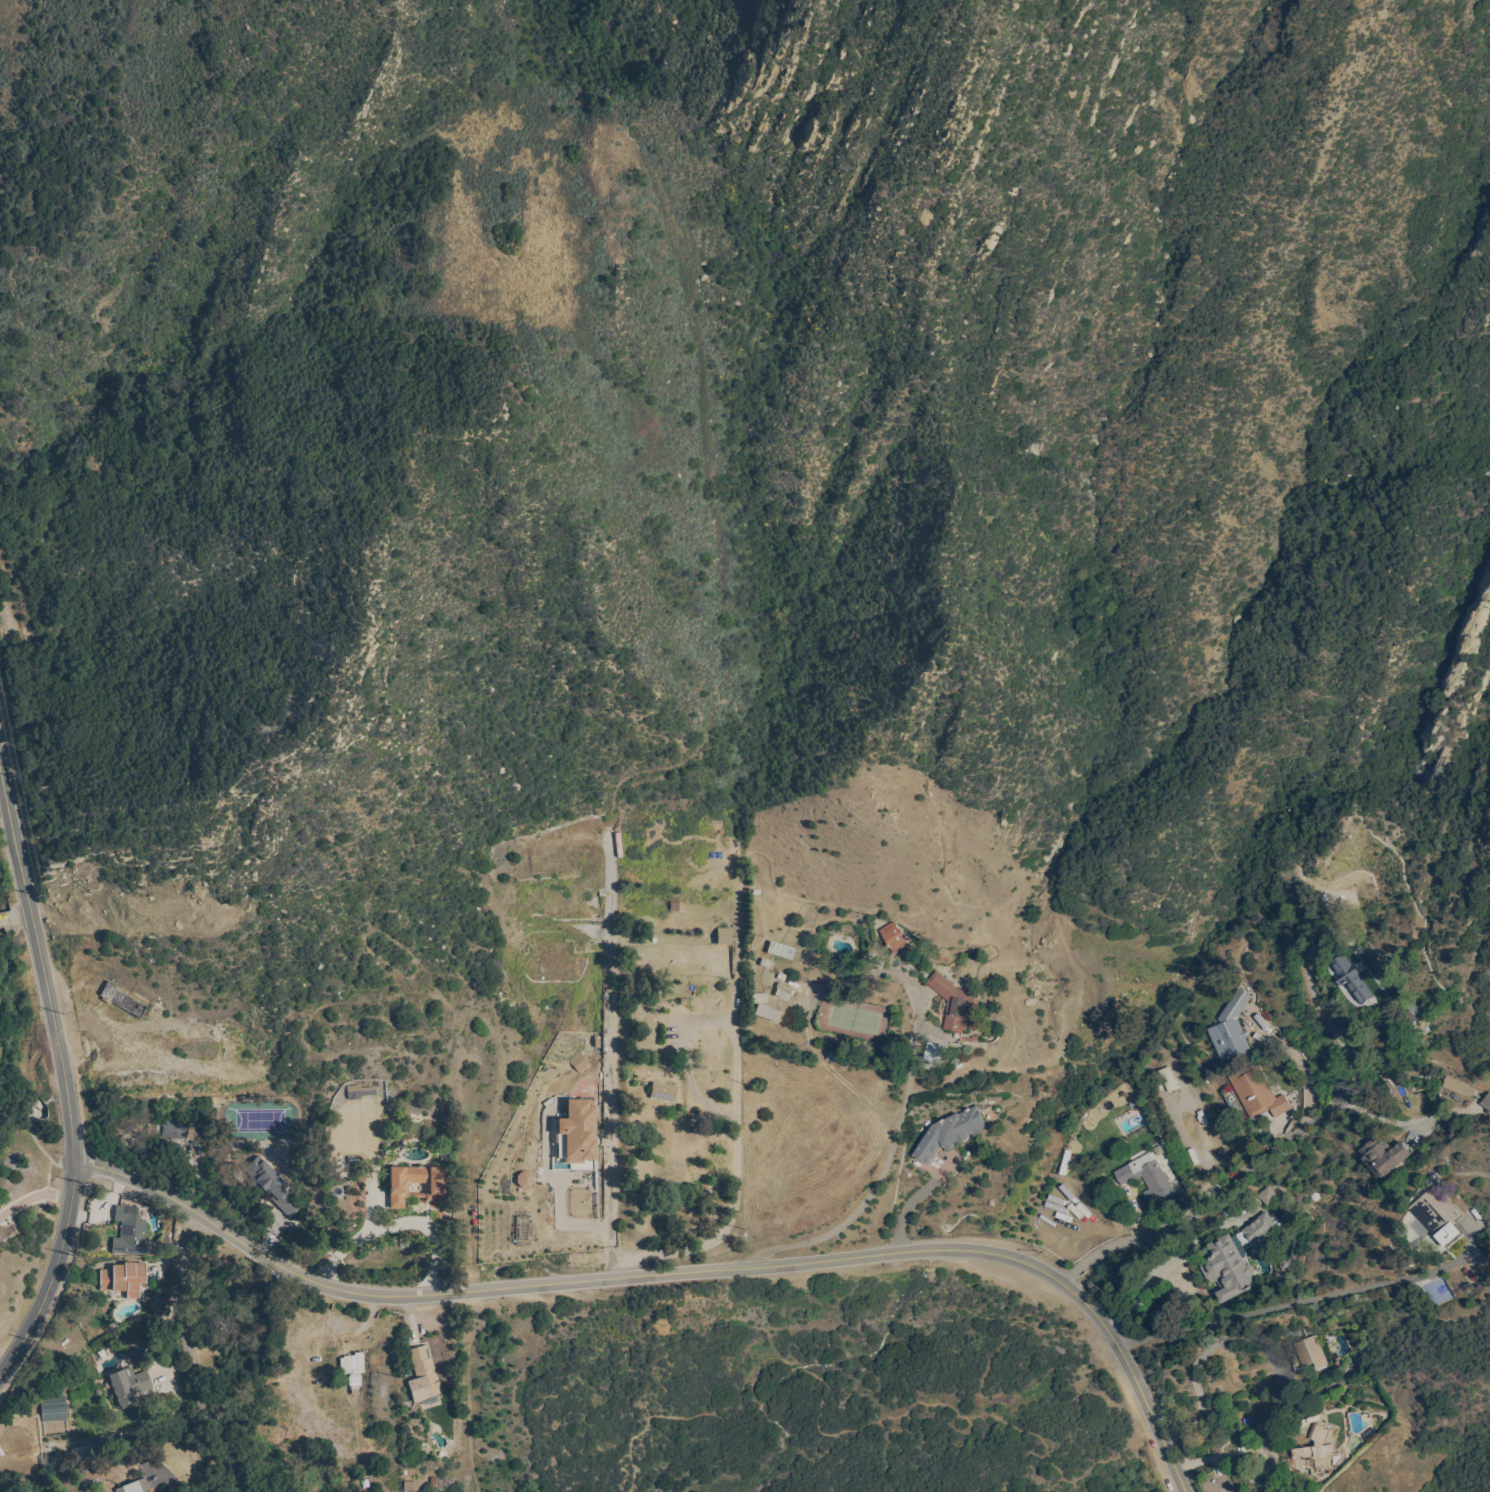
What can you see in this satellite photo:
road: (15, 919)
building: (725, 936)
building: (895, 937)
building: (781, 951)
building: (1352, 978)
building: (784, 992)
building: (760, 999)
building: (121, 1001)
building: (956, 1005)
road: (1318, 1009)
building: (769, 1013)
building: (1232, 1029)
building: (935, 1053)
building: (835, 1057)
road: (609, 1059)
building: (95, 1061)
building: (1170, 1079)
road: (66, 1085)
building: (1457, 1086)
building: (1256, 1090)
building: (359, 1092)
building: (664, 1092)
building: (1486, 1102)
road: (1374, 1116)
road: (737, 1120)
building: (175, 1131)
building: (576, 1132)
building: (951, 1132)
building: (1385, 1156)
road: (887, 1166)
building: (1148, 1178)
building: (268, 1181)
building: (399, 1188)
road: (1236, 1194)
building: (1267, 1196)
road: (34, 1197)
road: (912, 1206)
road: (369, 1209)
building: (1438, 1216)
road: (397, 1225)
building: (130, 1232)
building: (1236, 1257)
road: (679, 1273)
building: (124, 1280)
road: (1144, 1293)
road: (1290, 1307)
building: (73, 1344)
road: (194, 1351)
building: (1311, 1352)
road: (1197, 1360)
building: (354, 1363)
building: (423, 1376)
building: (129, 1386)
road: (467, 1392)
building: (54, 1409)
road: (820, 1409)
road: (1252, 1443)
building: (89, 1451)
building: (1316, 1451)
building: (135, 1487)
building: (150, 1491)
building: (1288, 1491)

